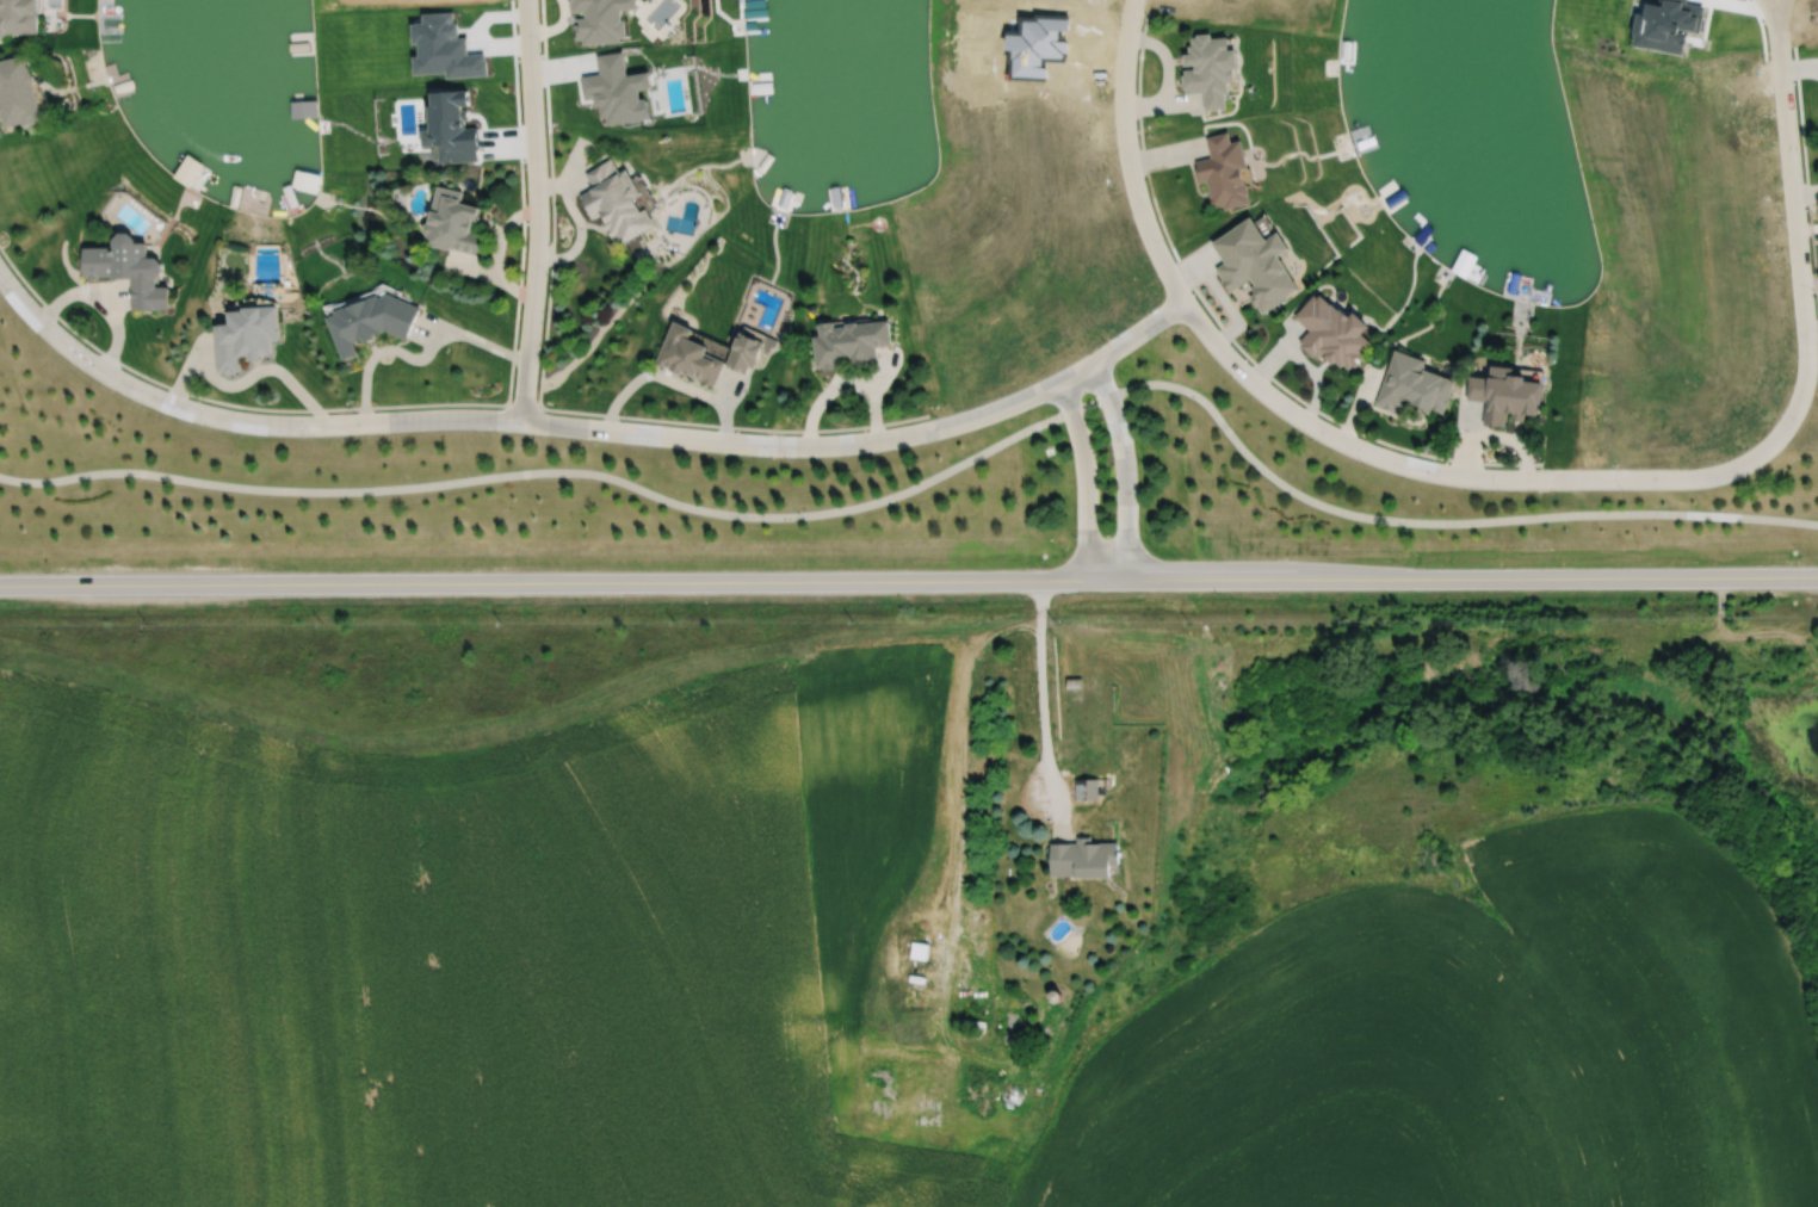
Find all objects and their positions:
building: (16, 19)
building: (600, 19)
building: (444, 48)
building: (1205, 70)
building: (616, 91)
building: (16, 93)
building: (451, 128)
road: (1133, 162)
building: (1220, 175)
road: (1794, 179)
building: (612, 204)
road: (534, 211)
building: (450, 224)
building: (124, 271)
building: (366, 321)
building: (242, 338)
building: (847, 345)
building: (703, 354)
road: (420, 355)
building: (1411, 386)
building: (1504, 397)
road: (573, 427)
road: (1124, 466)
road: (935, 469)
road: (1086, 479)
road: (1501, 481)
road: (909, 578)
road: (1043, 685)
building: (1084, 788)
building: (1080, 859)
crop: (809, 984)
building: (1014, 1020)

